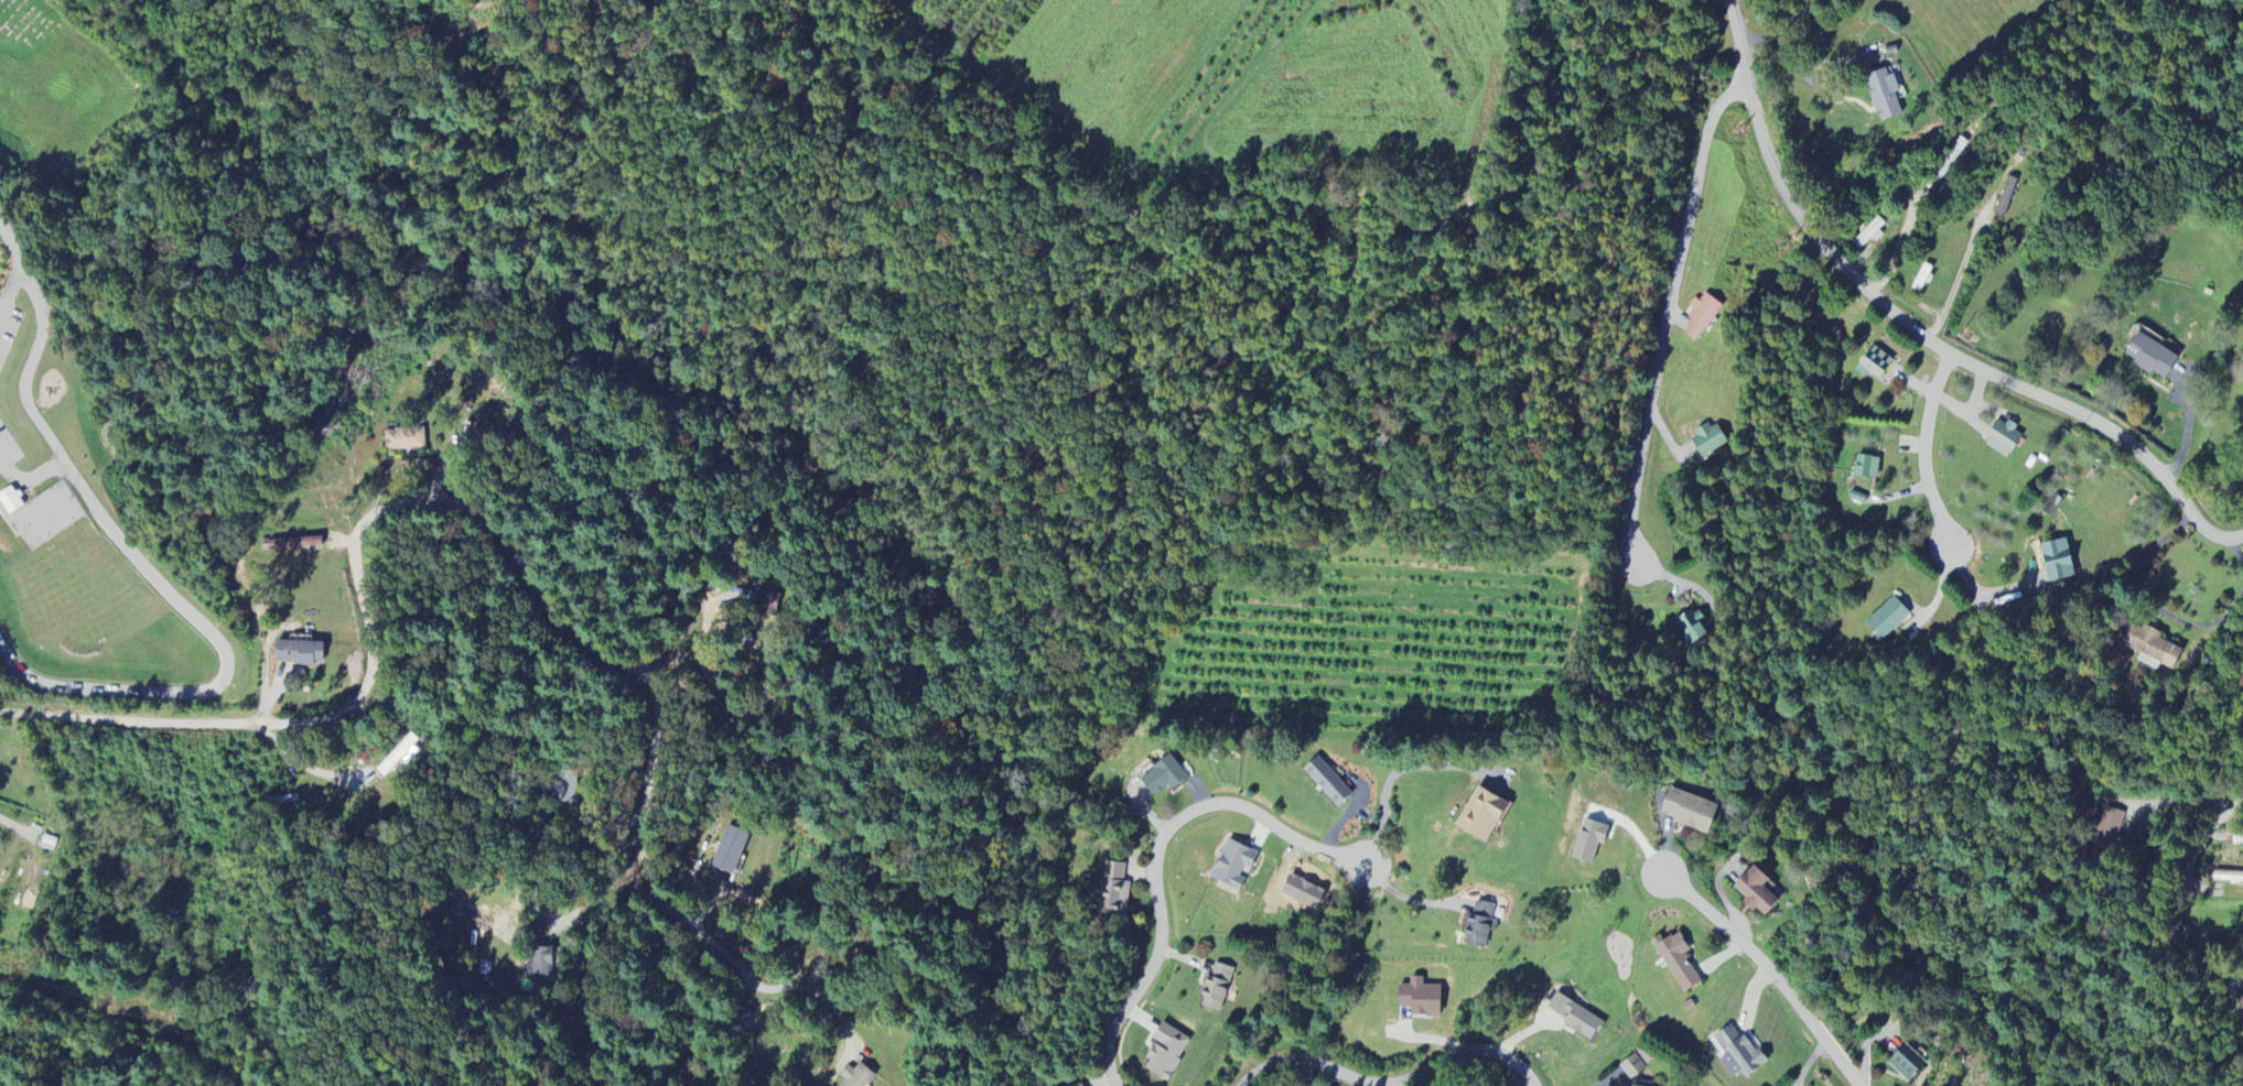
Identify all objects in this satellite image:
road: (1779, 29)
road: (1826, 94)
building: (1884, 95)
building: (2006, 196)
building: (1868, 235)
road: (1900, 241)
road: (12, 282)
road: (1, 306)
road: (1667, 313)
building: (1702, 317)
parking lot: (7, 326)
road: (1917, 334)
building: (2152, 357)
building: (1876, 363)
building: (2003, 438)
building: (403, 439)
building: (1710, 439)
parking lot: (7, 448)
road: (1923, 448)
building: (1867, 468)
road: (30, 477)
building: (10, 501)
road: (478, 523)
building: (293, 544)
road: (2239, 550)
building: (2058, 562)
road: (141, 565)
road: (2150, 600)
building: (759, 601)
building: (1888, 619)
building: (1691, 627)
building: (2150, 648)
building: (299, 653)
building: (399, 759)
road: (1394, 769)
building: (1164, 775)
building: (1327, 781)
building: (569, 790)
building: (1689, 811)
building: (1481, 814)
building: (2109, 828)
building: (1589, 840)
building: (48, 844)
road: (2197, 844)
building: (730, 850)
road: (1155, 856)
building: (1233, 866)
building: (2228, 877)
building: (1114, 890)
building: (1756, 891)
road: (1411, 900)
building: (1480, 924)
building: (1676, 960)
road: (753, 963)
building: (541, 965)
road: (1770, 973)
building: (1216, 987)
building: (1420, 998)
building: (1575, 1017)
road: (125, 1030)
building: (1165, 1052)
building: (1738, 1054)
building: (1907, 1064)
building: (1631, 1067)
building: (856, 1076)
road: (1390, 1083)
building: (1080, 1085)

